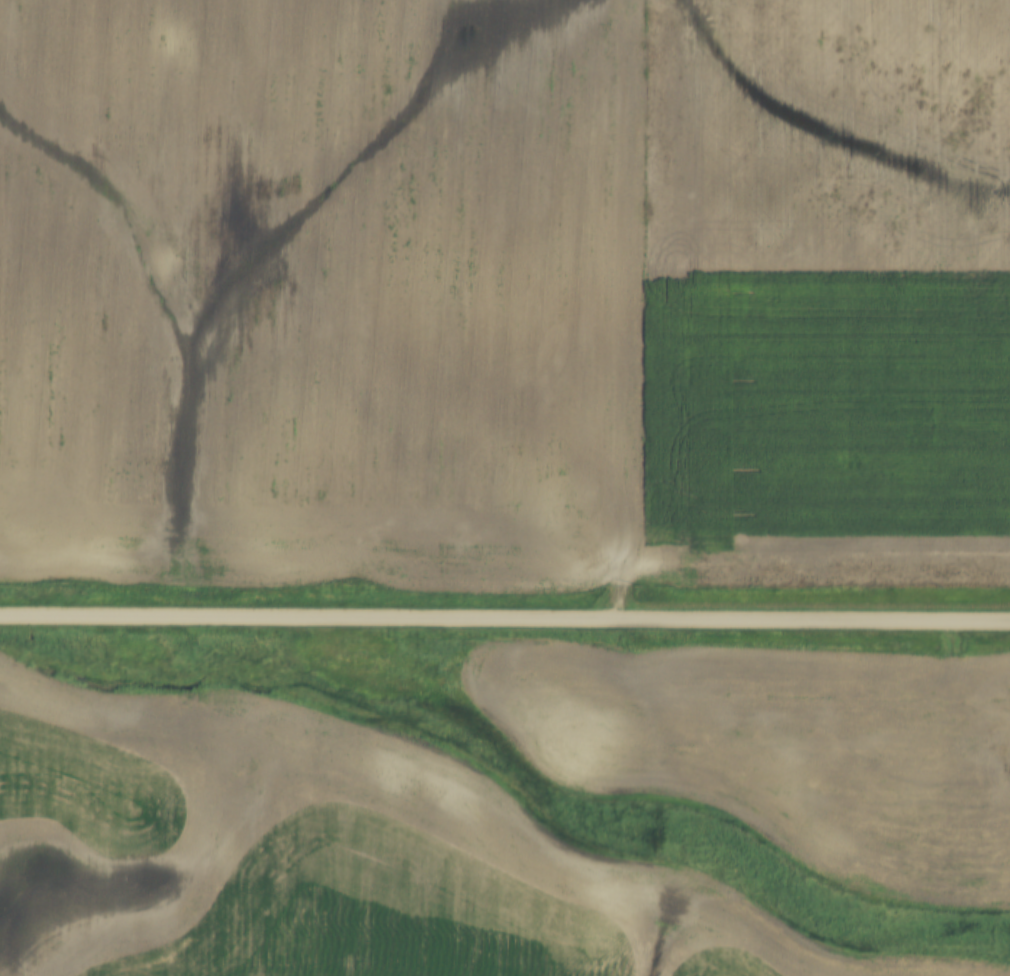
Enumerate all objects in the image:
road: (505, 617)

